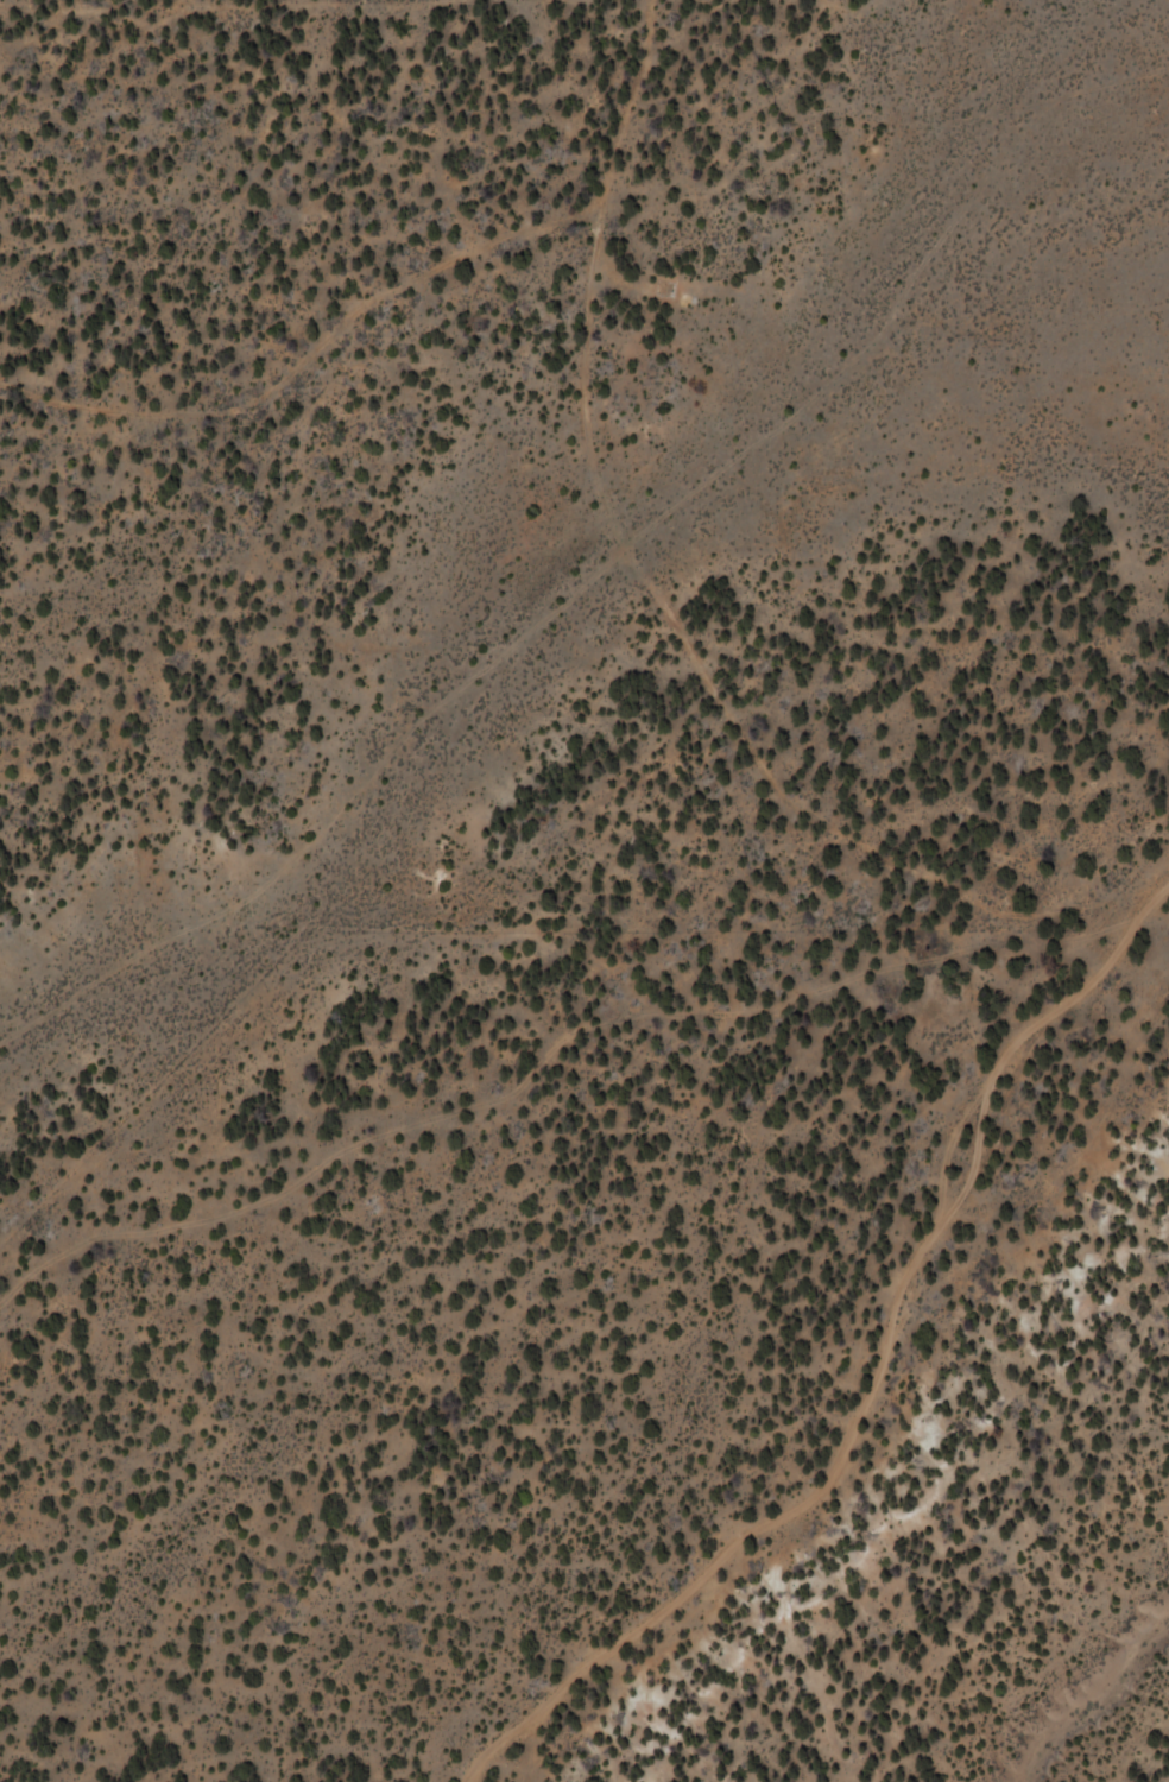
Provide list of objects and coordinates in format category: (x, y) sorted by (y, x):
road: (657, 607)
road: (326, 819)
road: (874, 1371)

